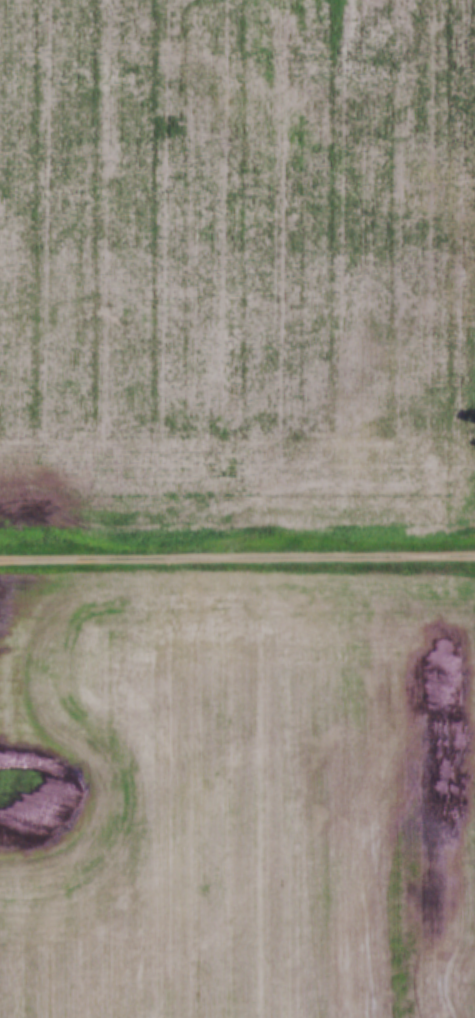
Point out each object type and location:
road: (237, 555)

